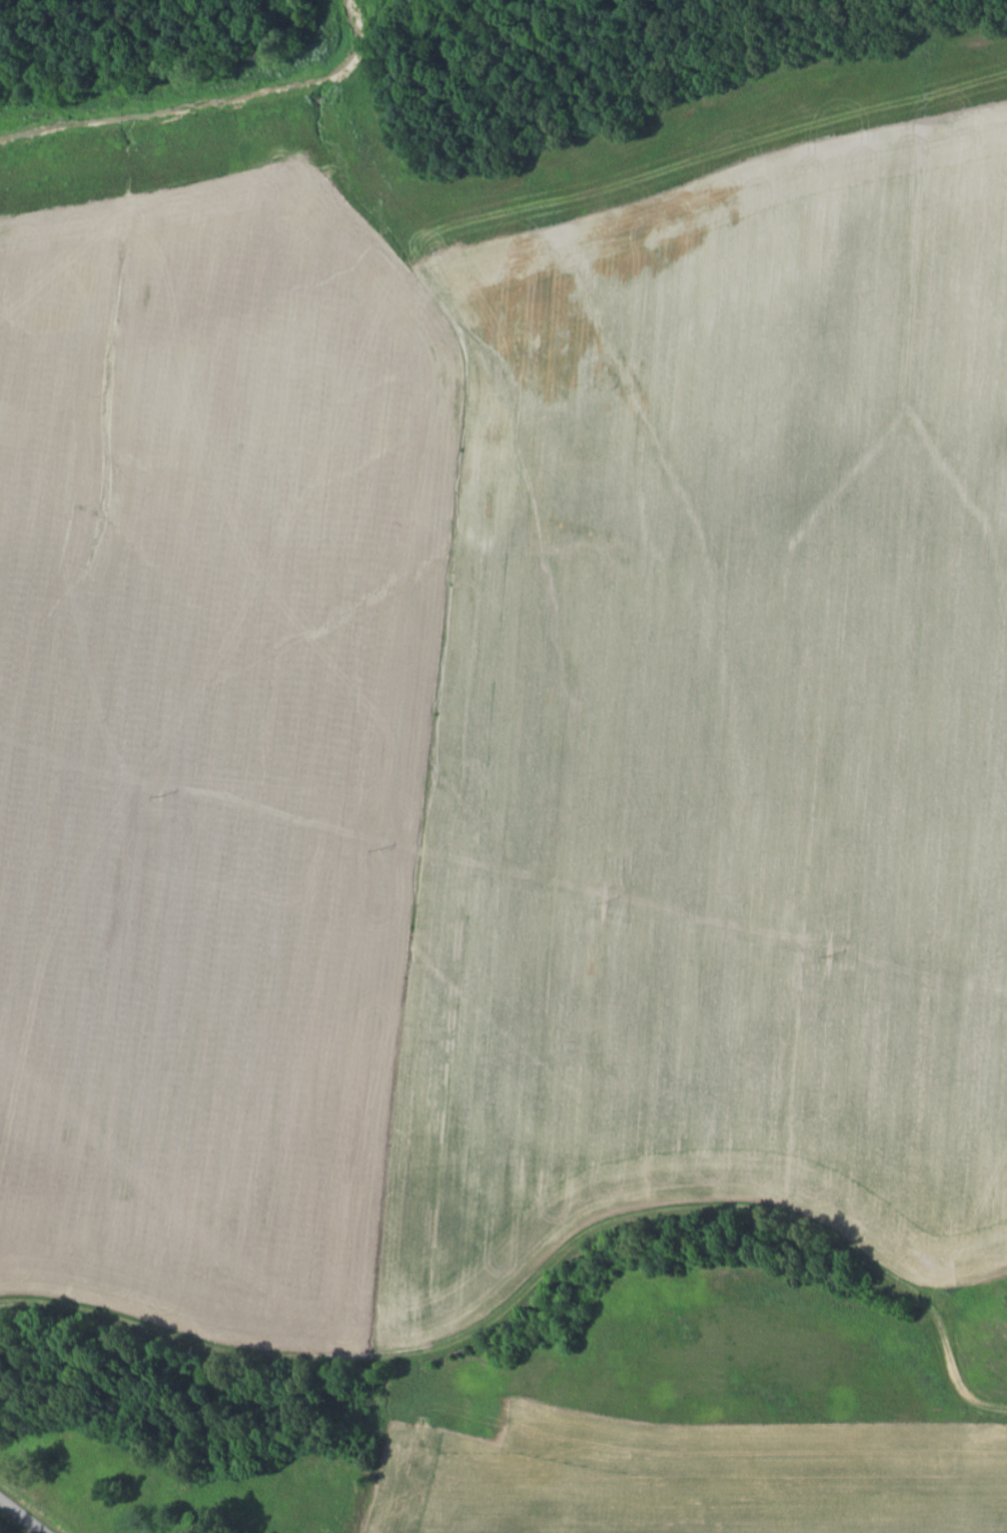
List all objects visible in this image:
road: (535, 173)
road: (21, 1515)

